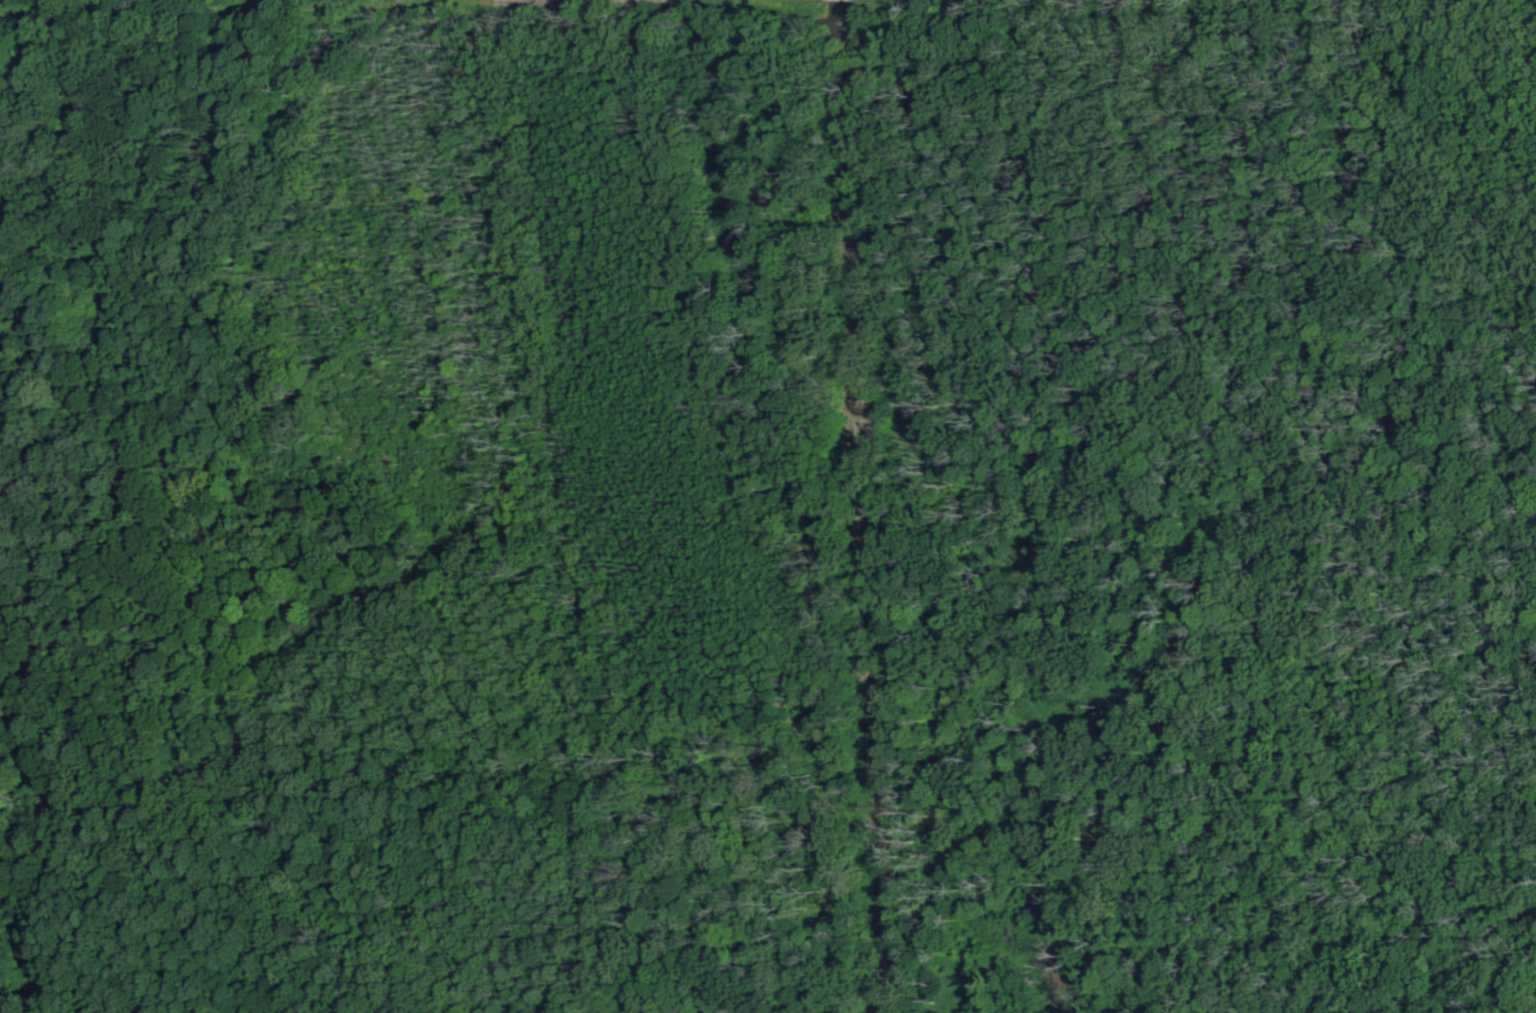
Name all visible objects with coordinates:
road: (309, 9)
park: (768, 506)

